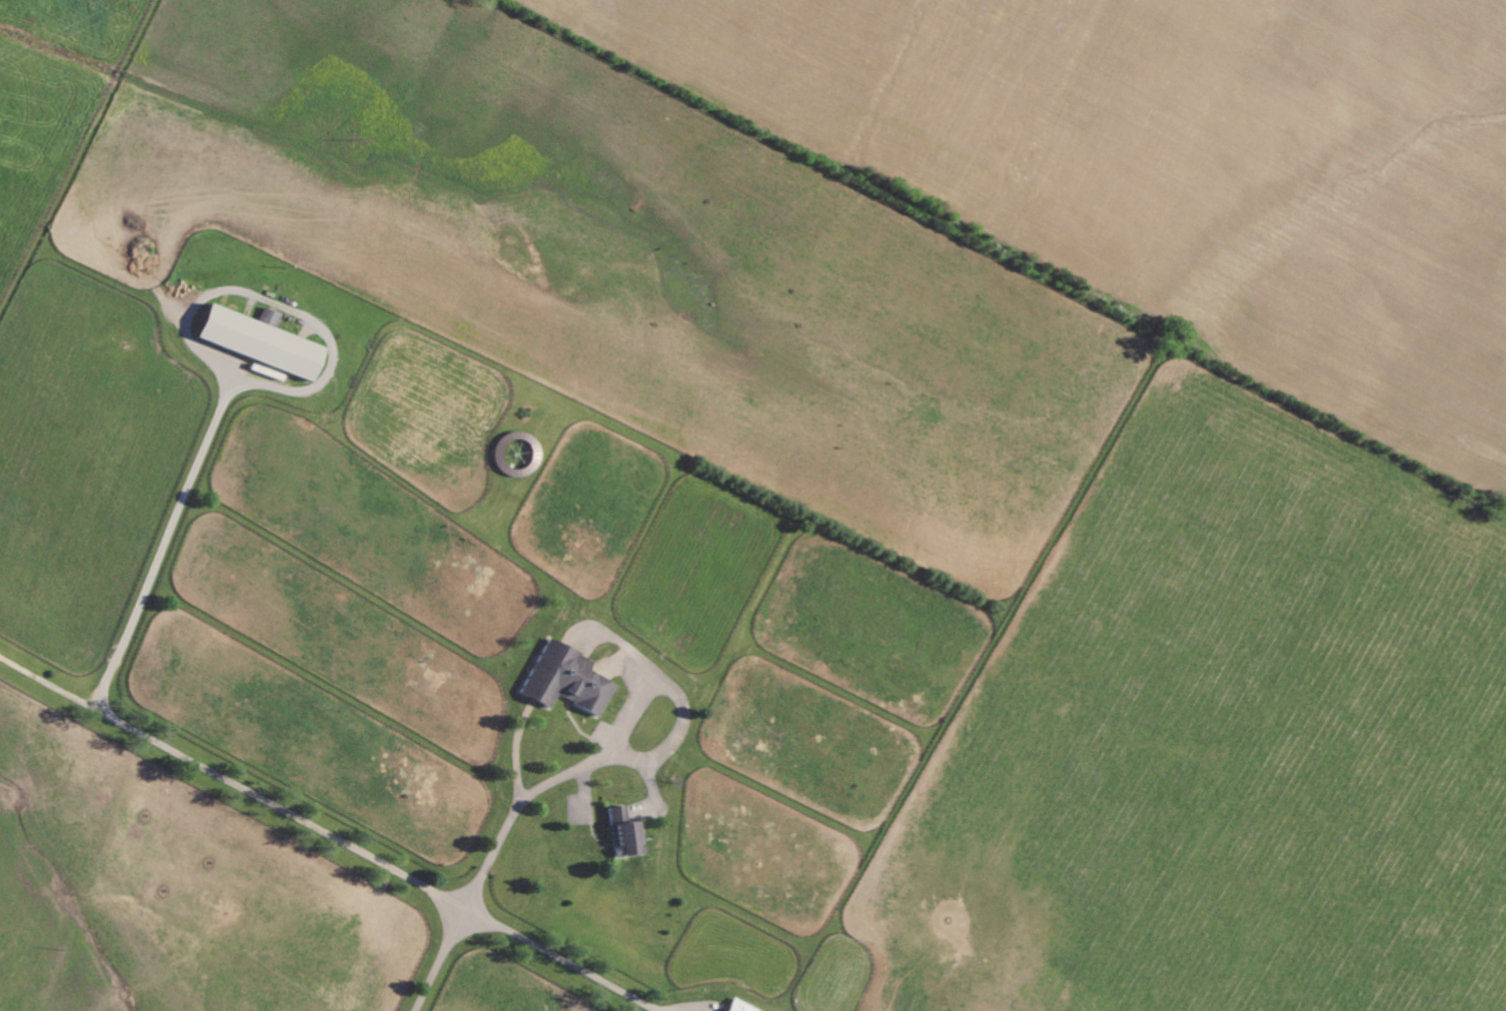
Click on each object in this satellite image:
building: (269, 317)
building: (259, 342)
road: (216, 366)
building: (567, 679)
road: (606, 758)
road: (234, 783)
building: (624, 834)
road: (488, 867)
road: (551, 961)
building: (739, 1007)

